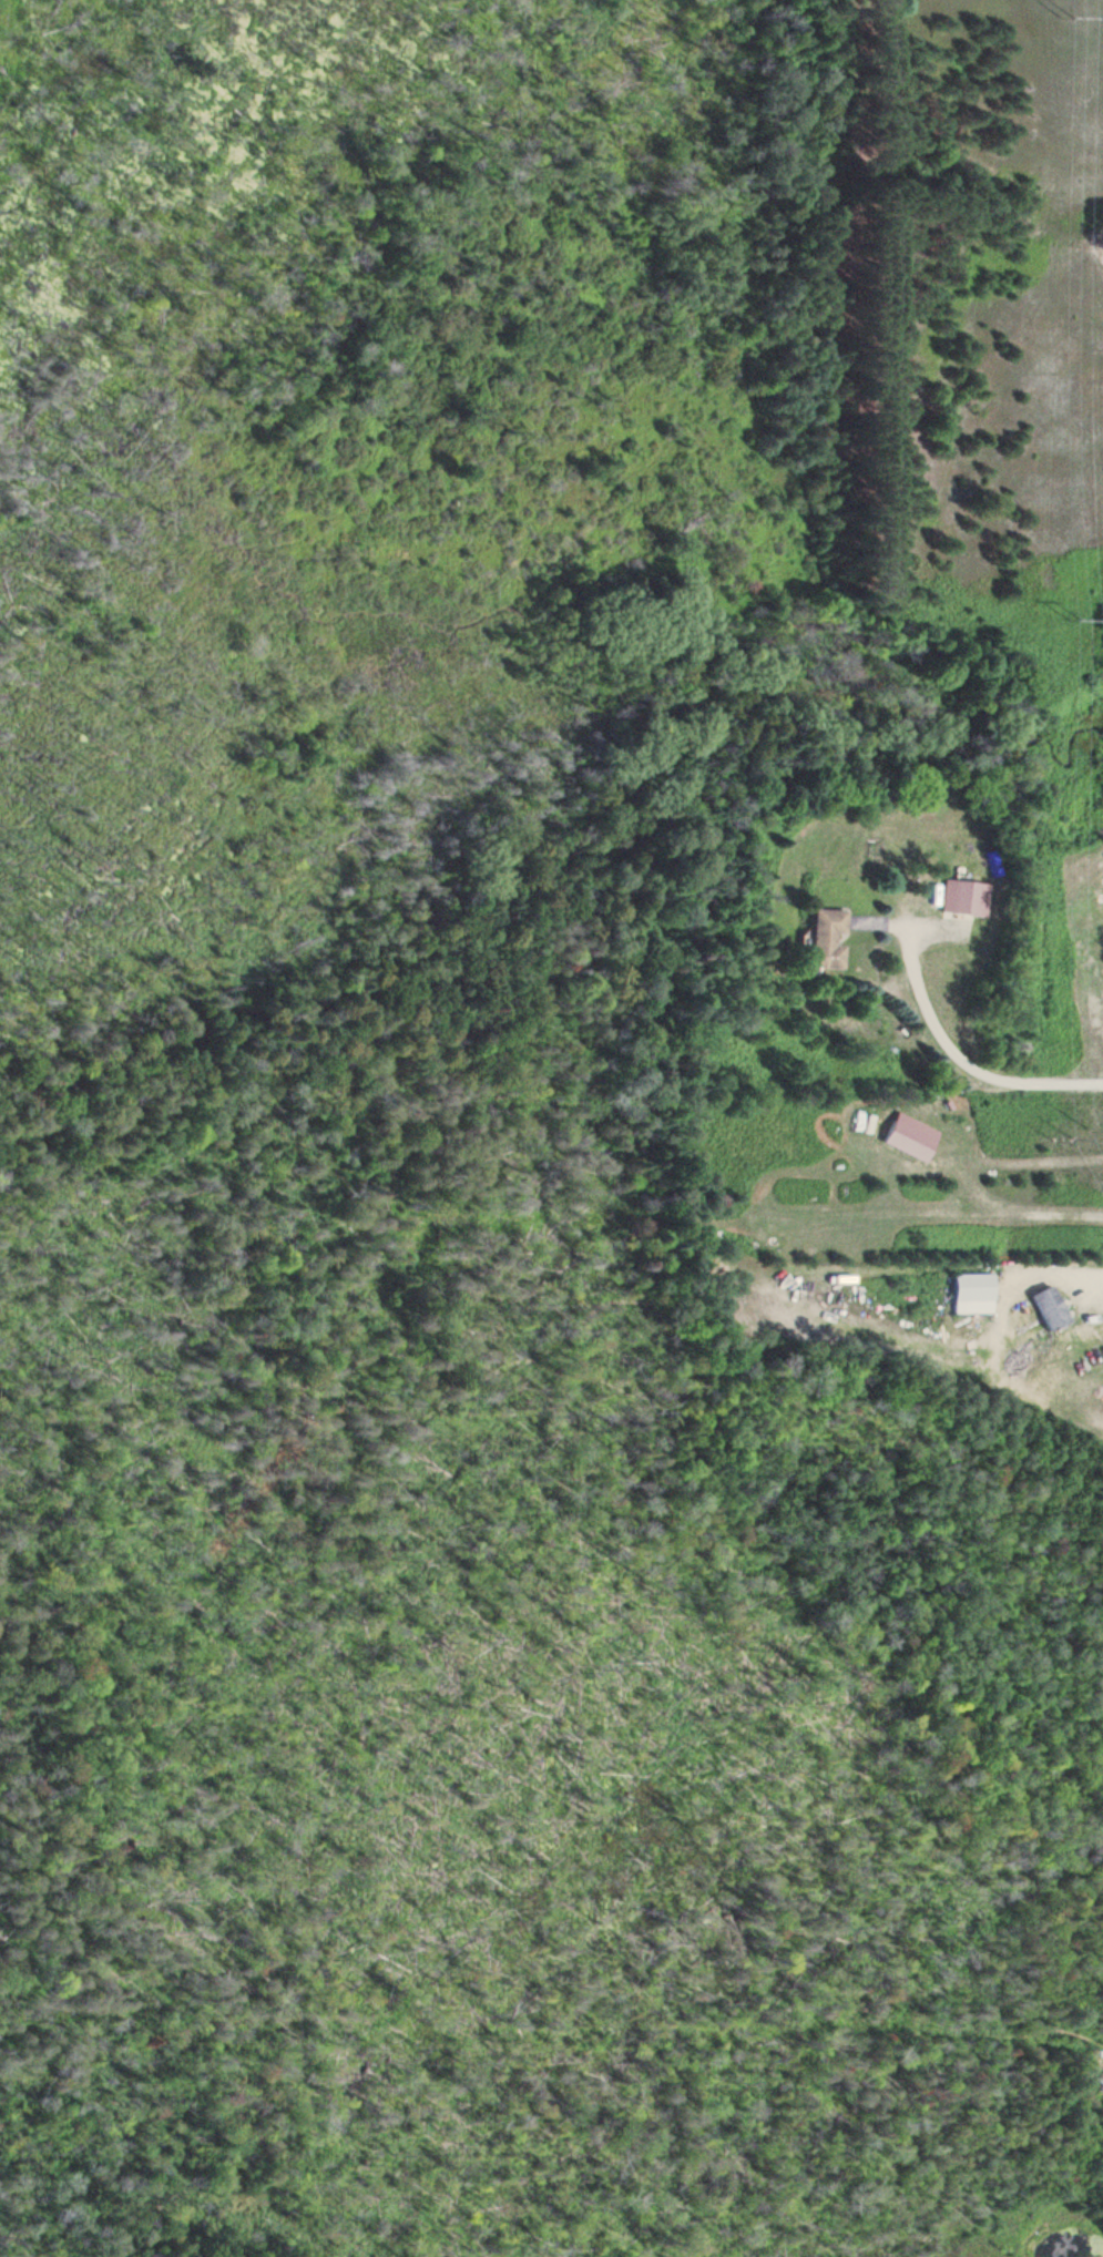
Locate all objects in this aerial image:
building: (958, 899)
building: (817, 940)
road: (941, 1052)
building: (901, 1137)
building: (963, 1295)
building: (1041, 1308)

